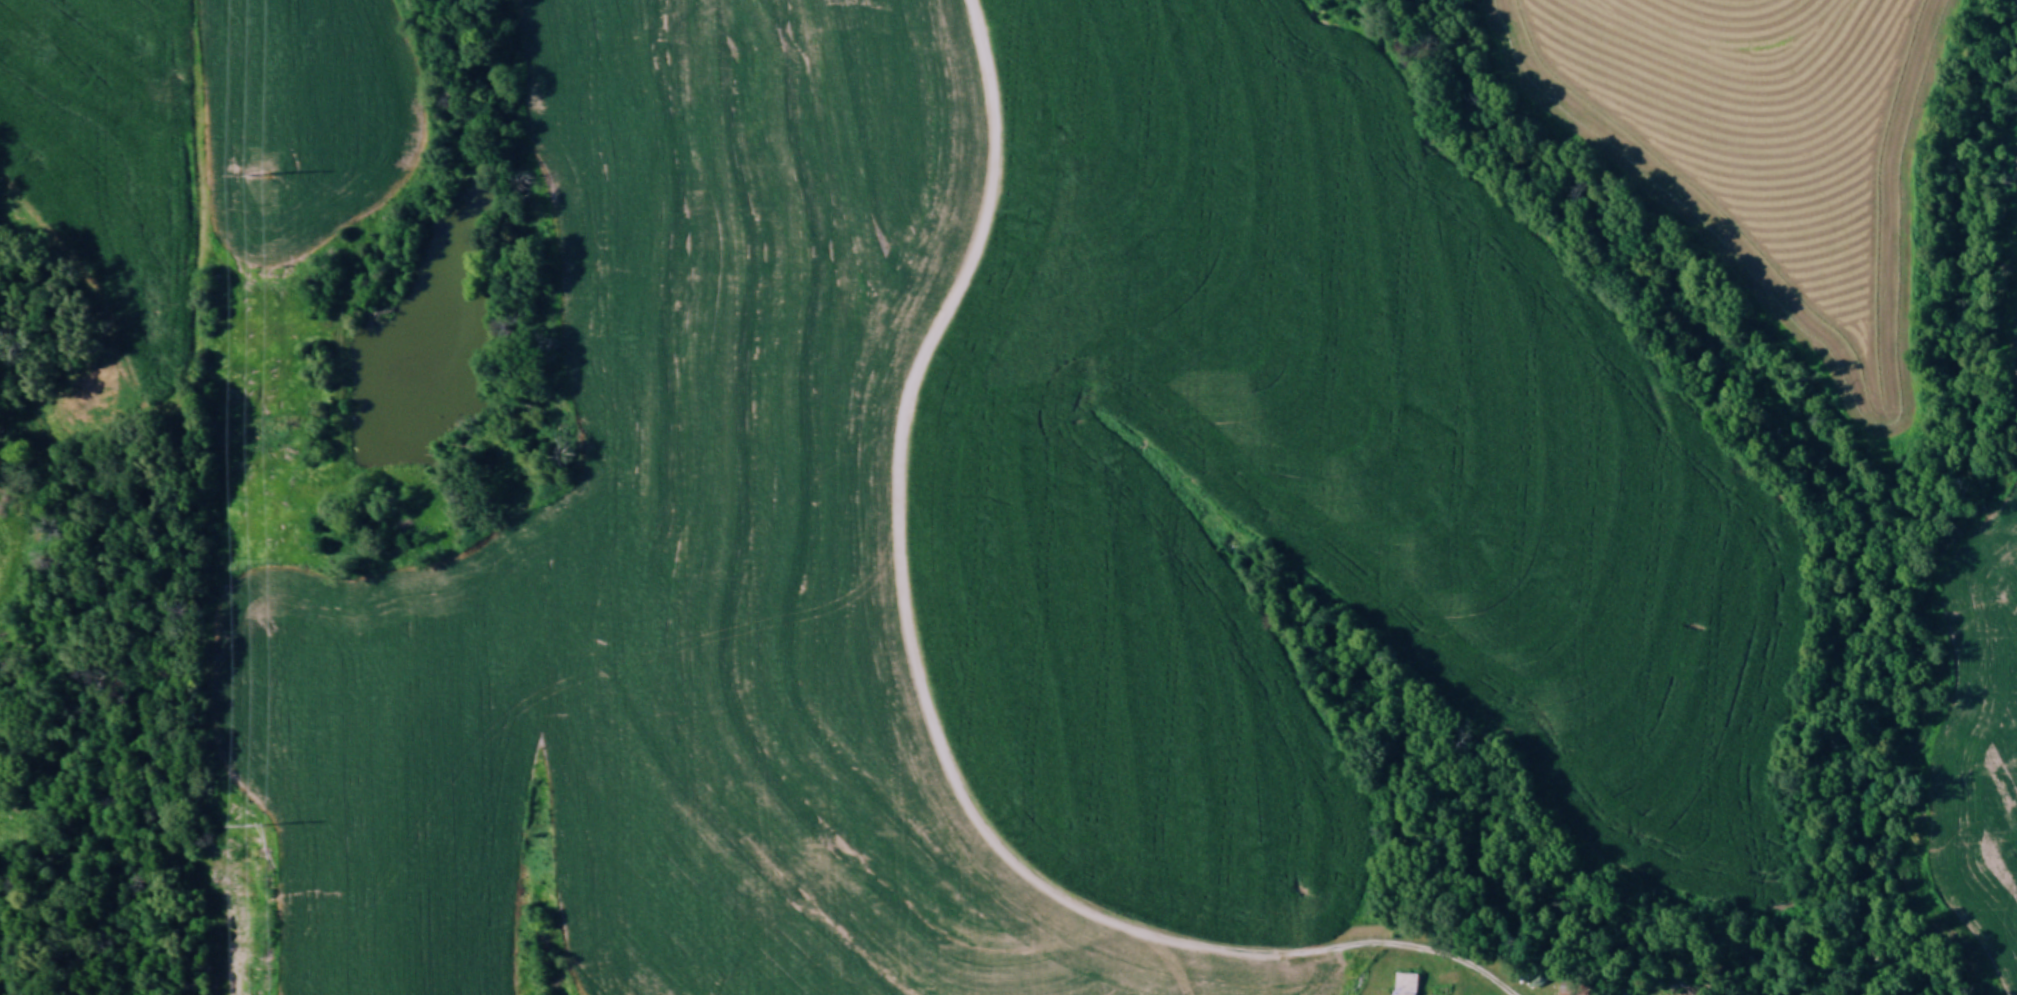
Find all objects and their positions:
power tower: (256, 174)
road: (922, 693)
power tower: (257, 830)
building: (1411, 985)
building: (1626, 994)

